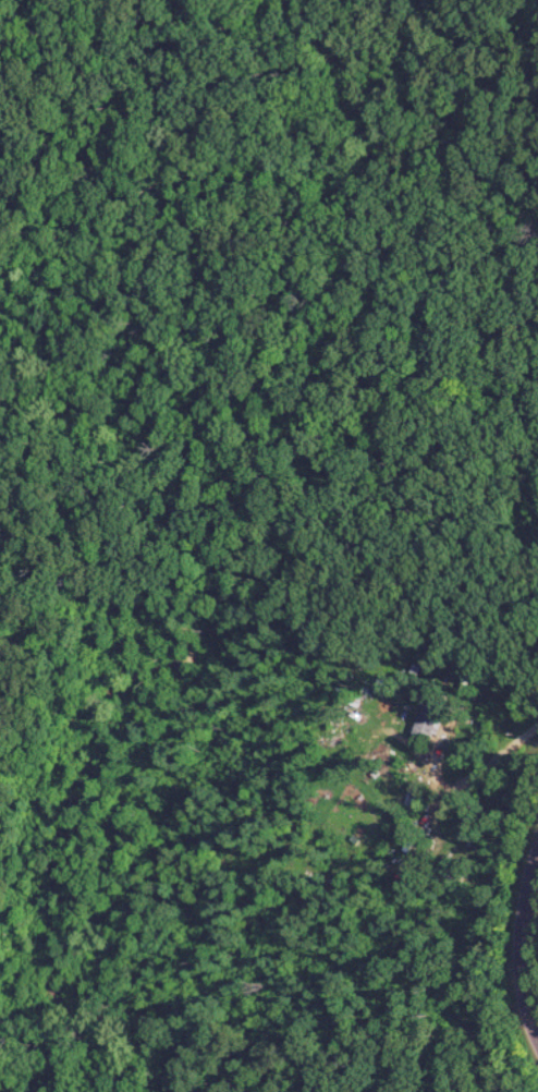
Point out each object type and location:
building: (426, 720)
road: (490, 761)
road: (524, 945)

